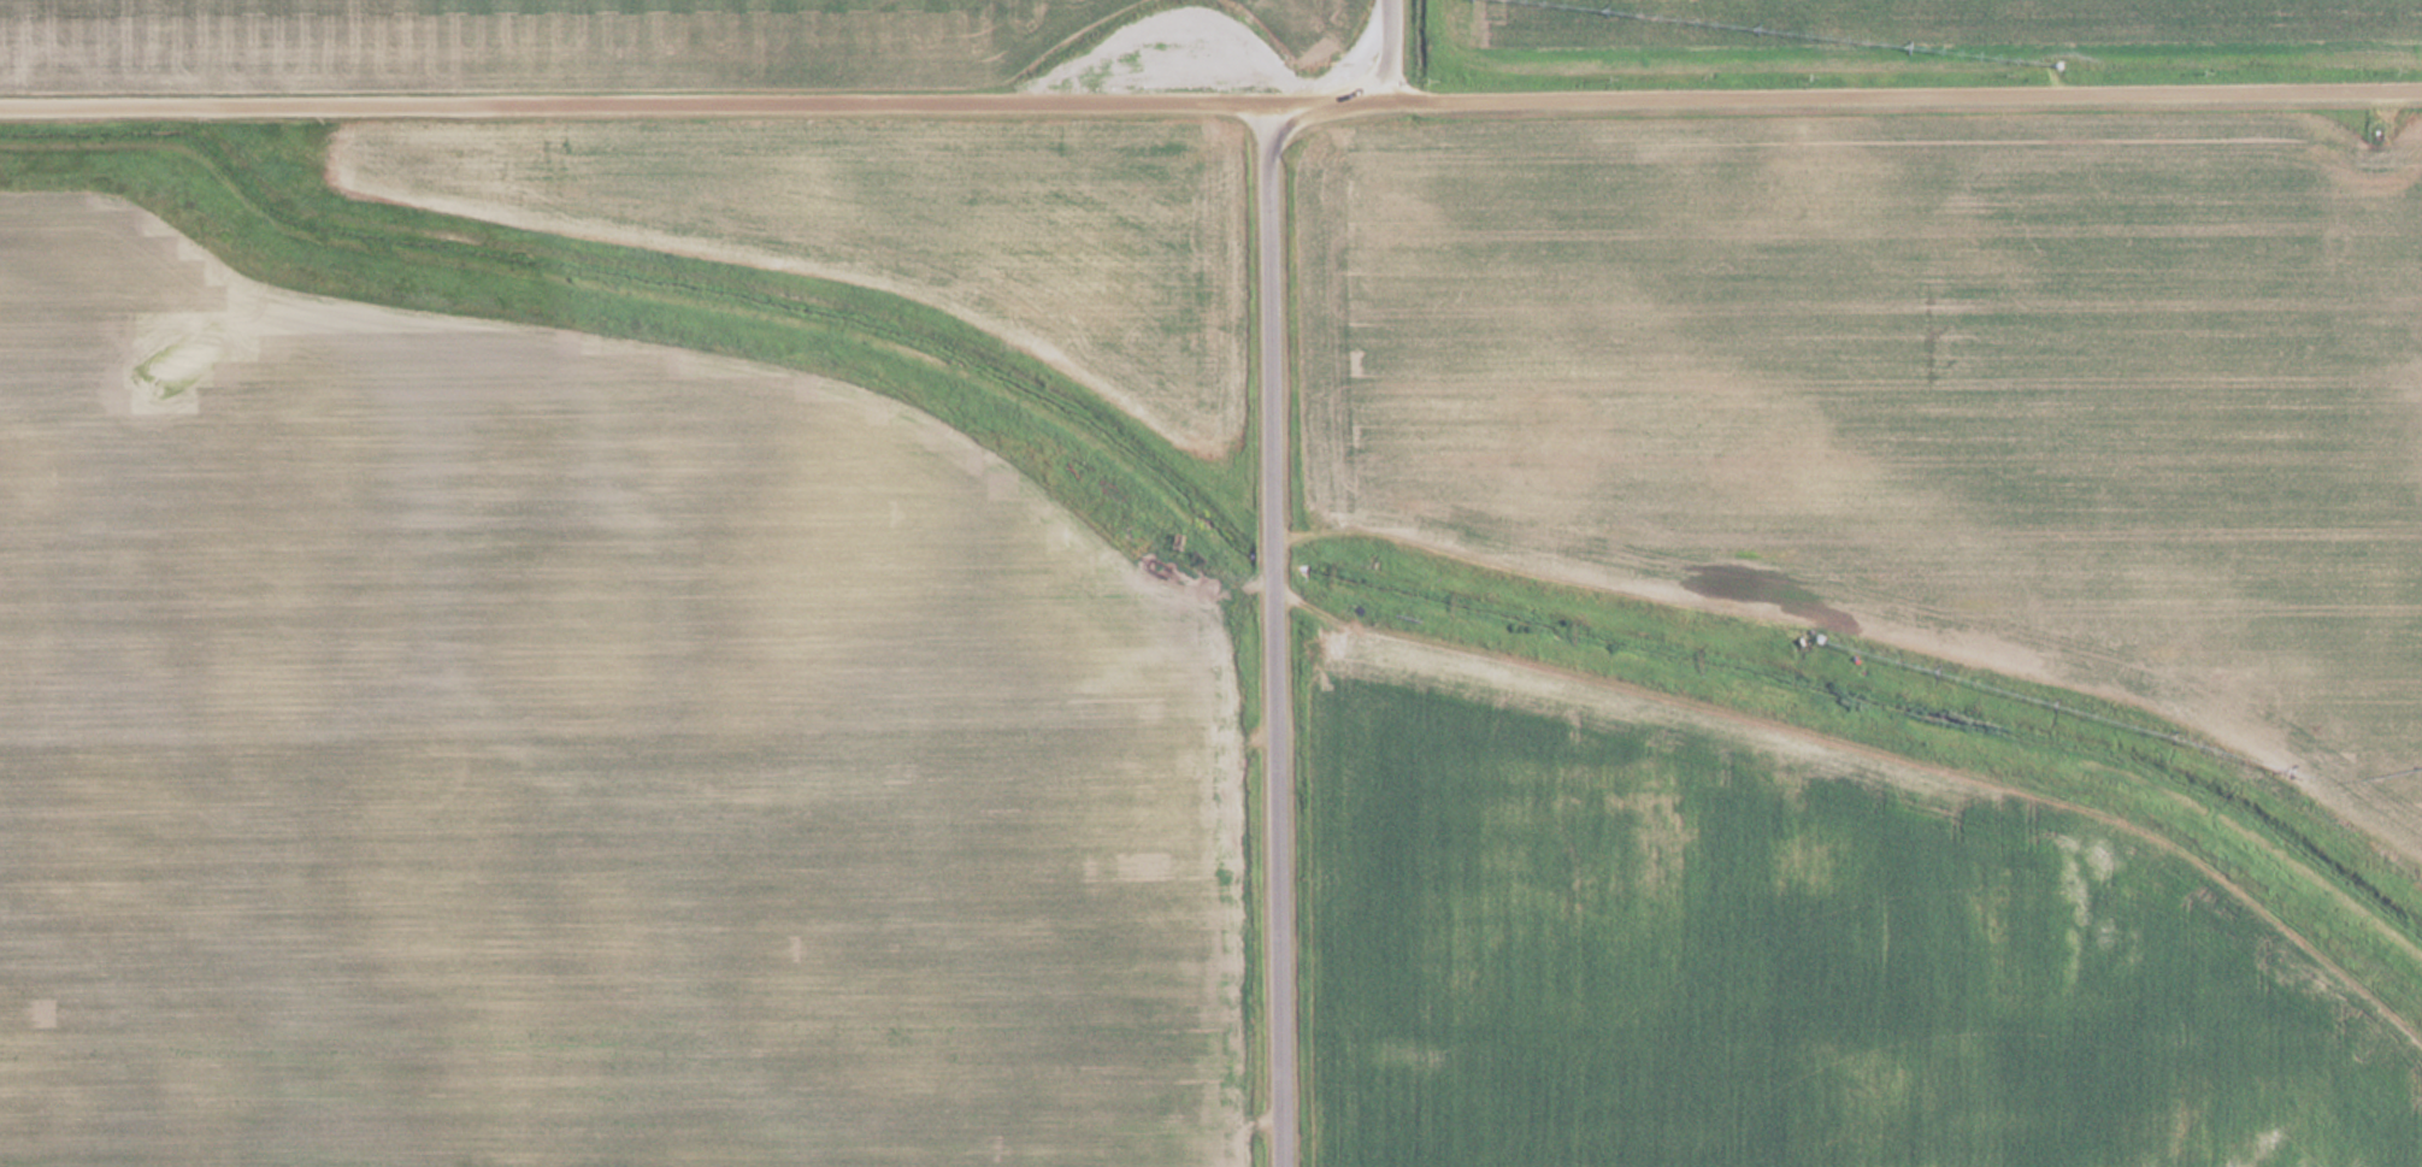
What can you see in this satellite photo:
road: (1397, 52)
road: (1210, 99)
road: (1283, 632)

